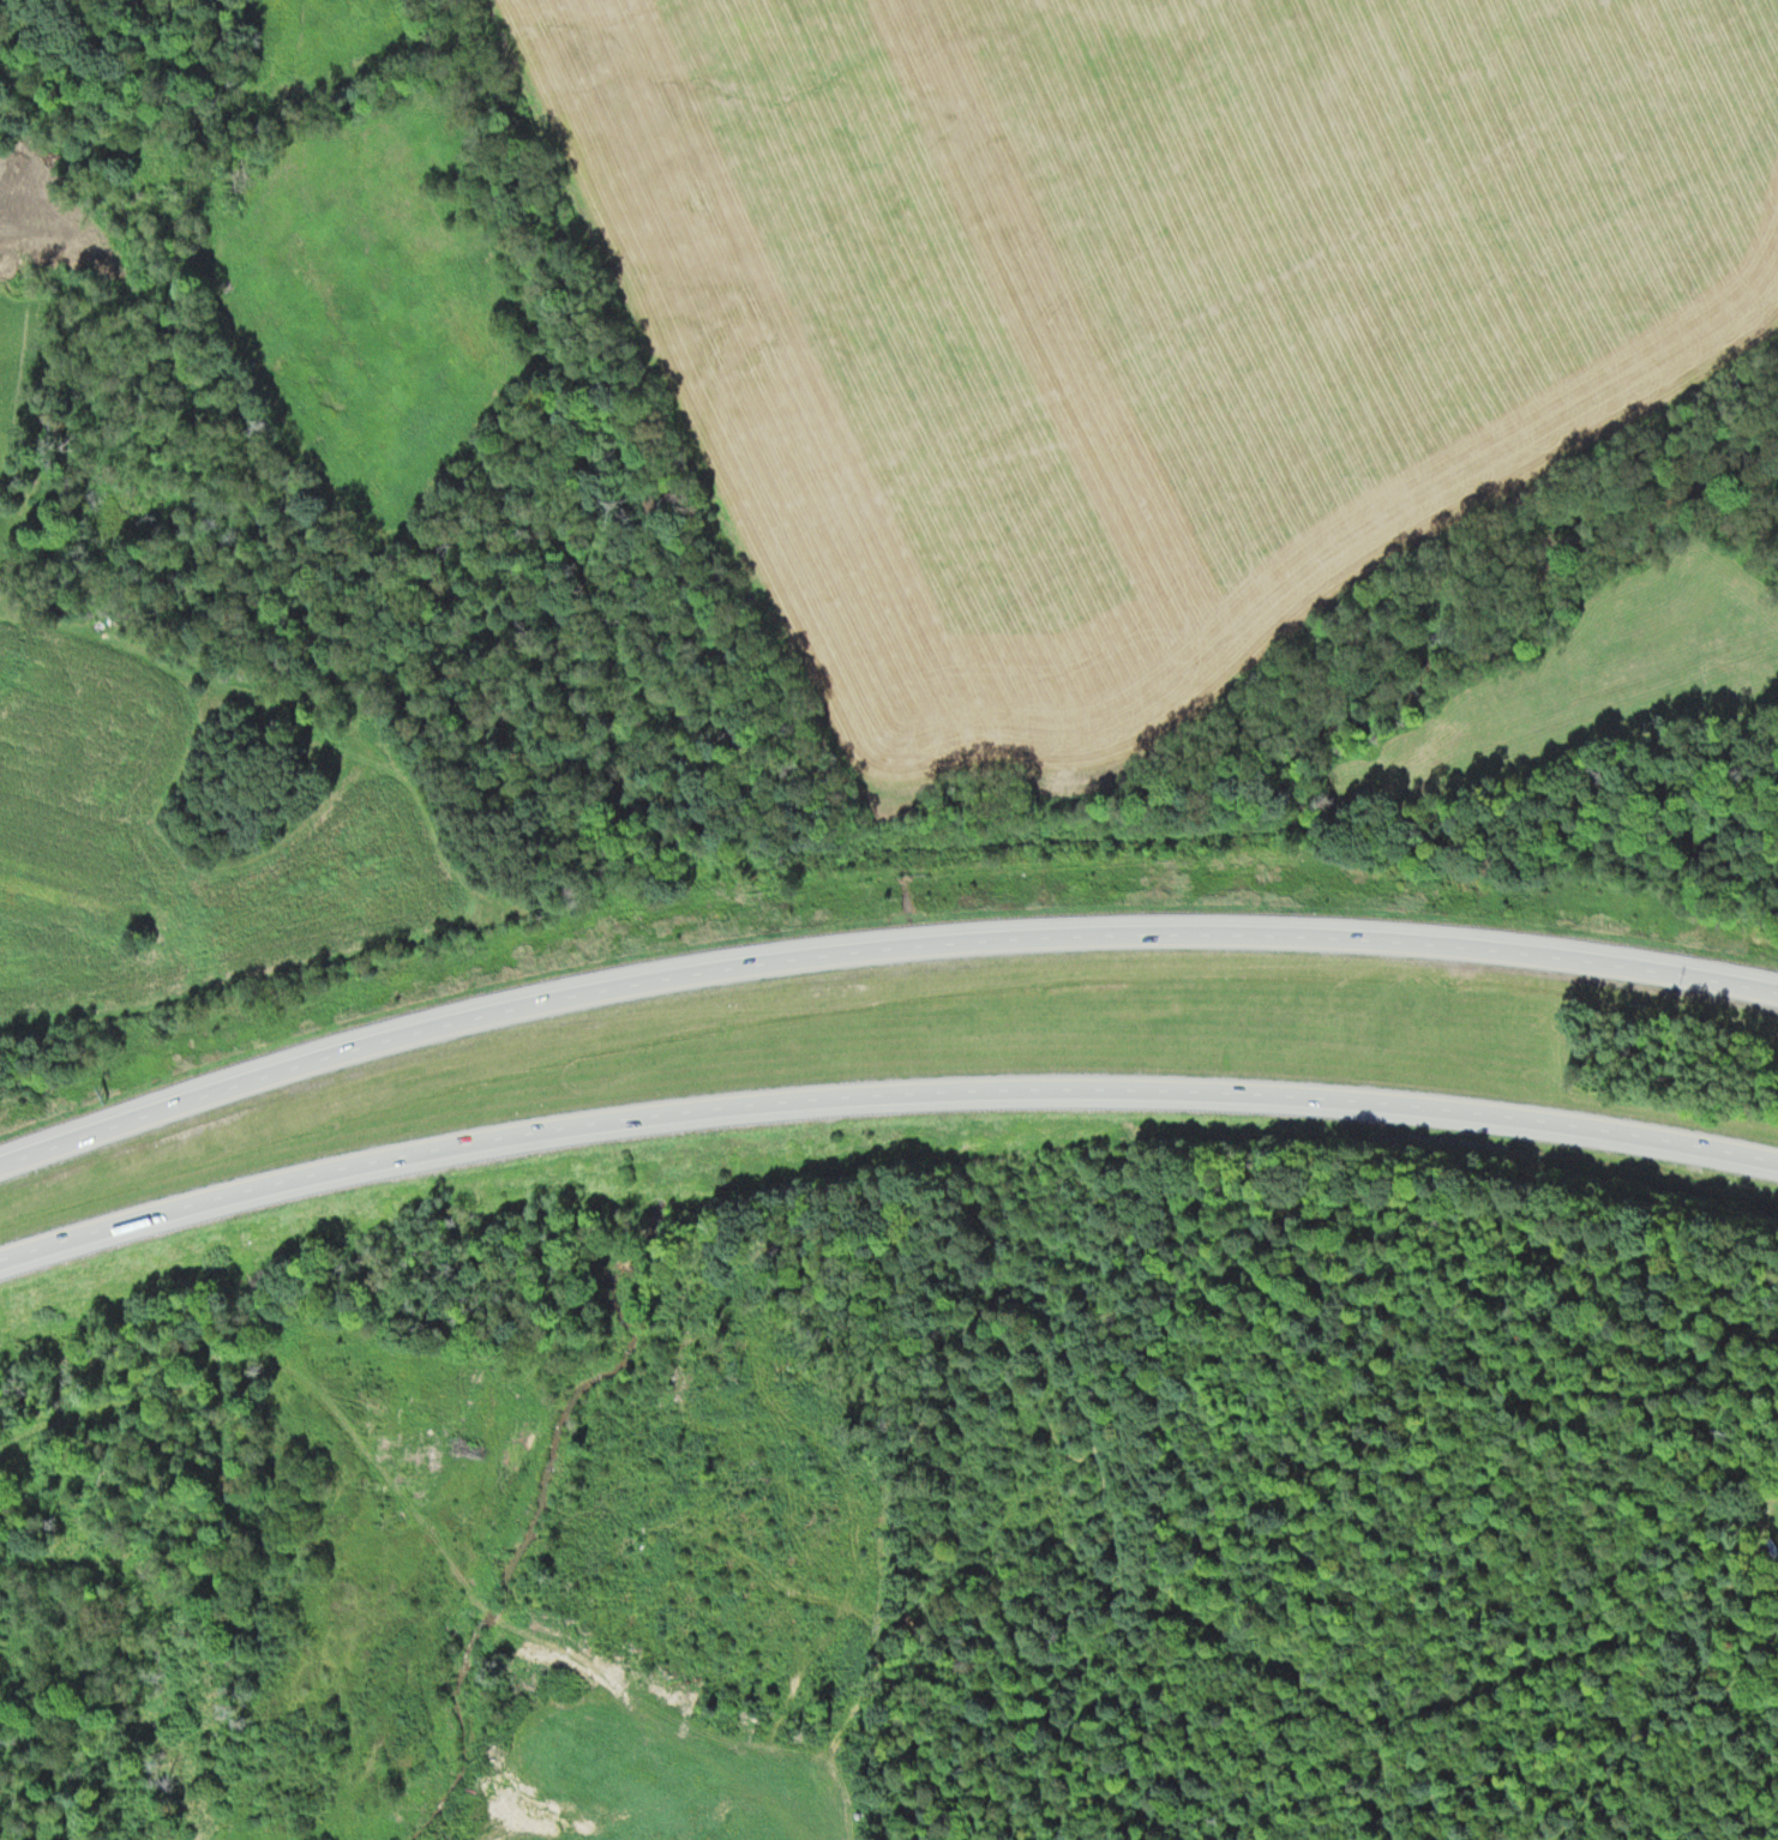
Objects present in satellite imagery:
road: (876, 955)
road: (882, 1101)

